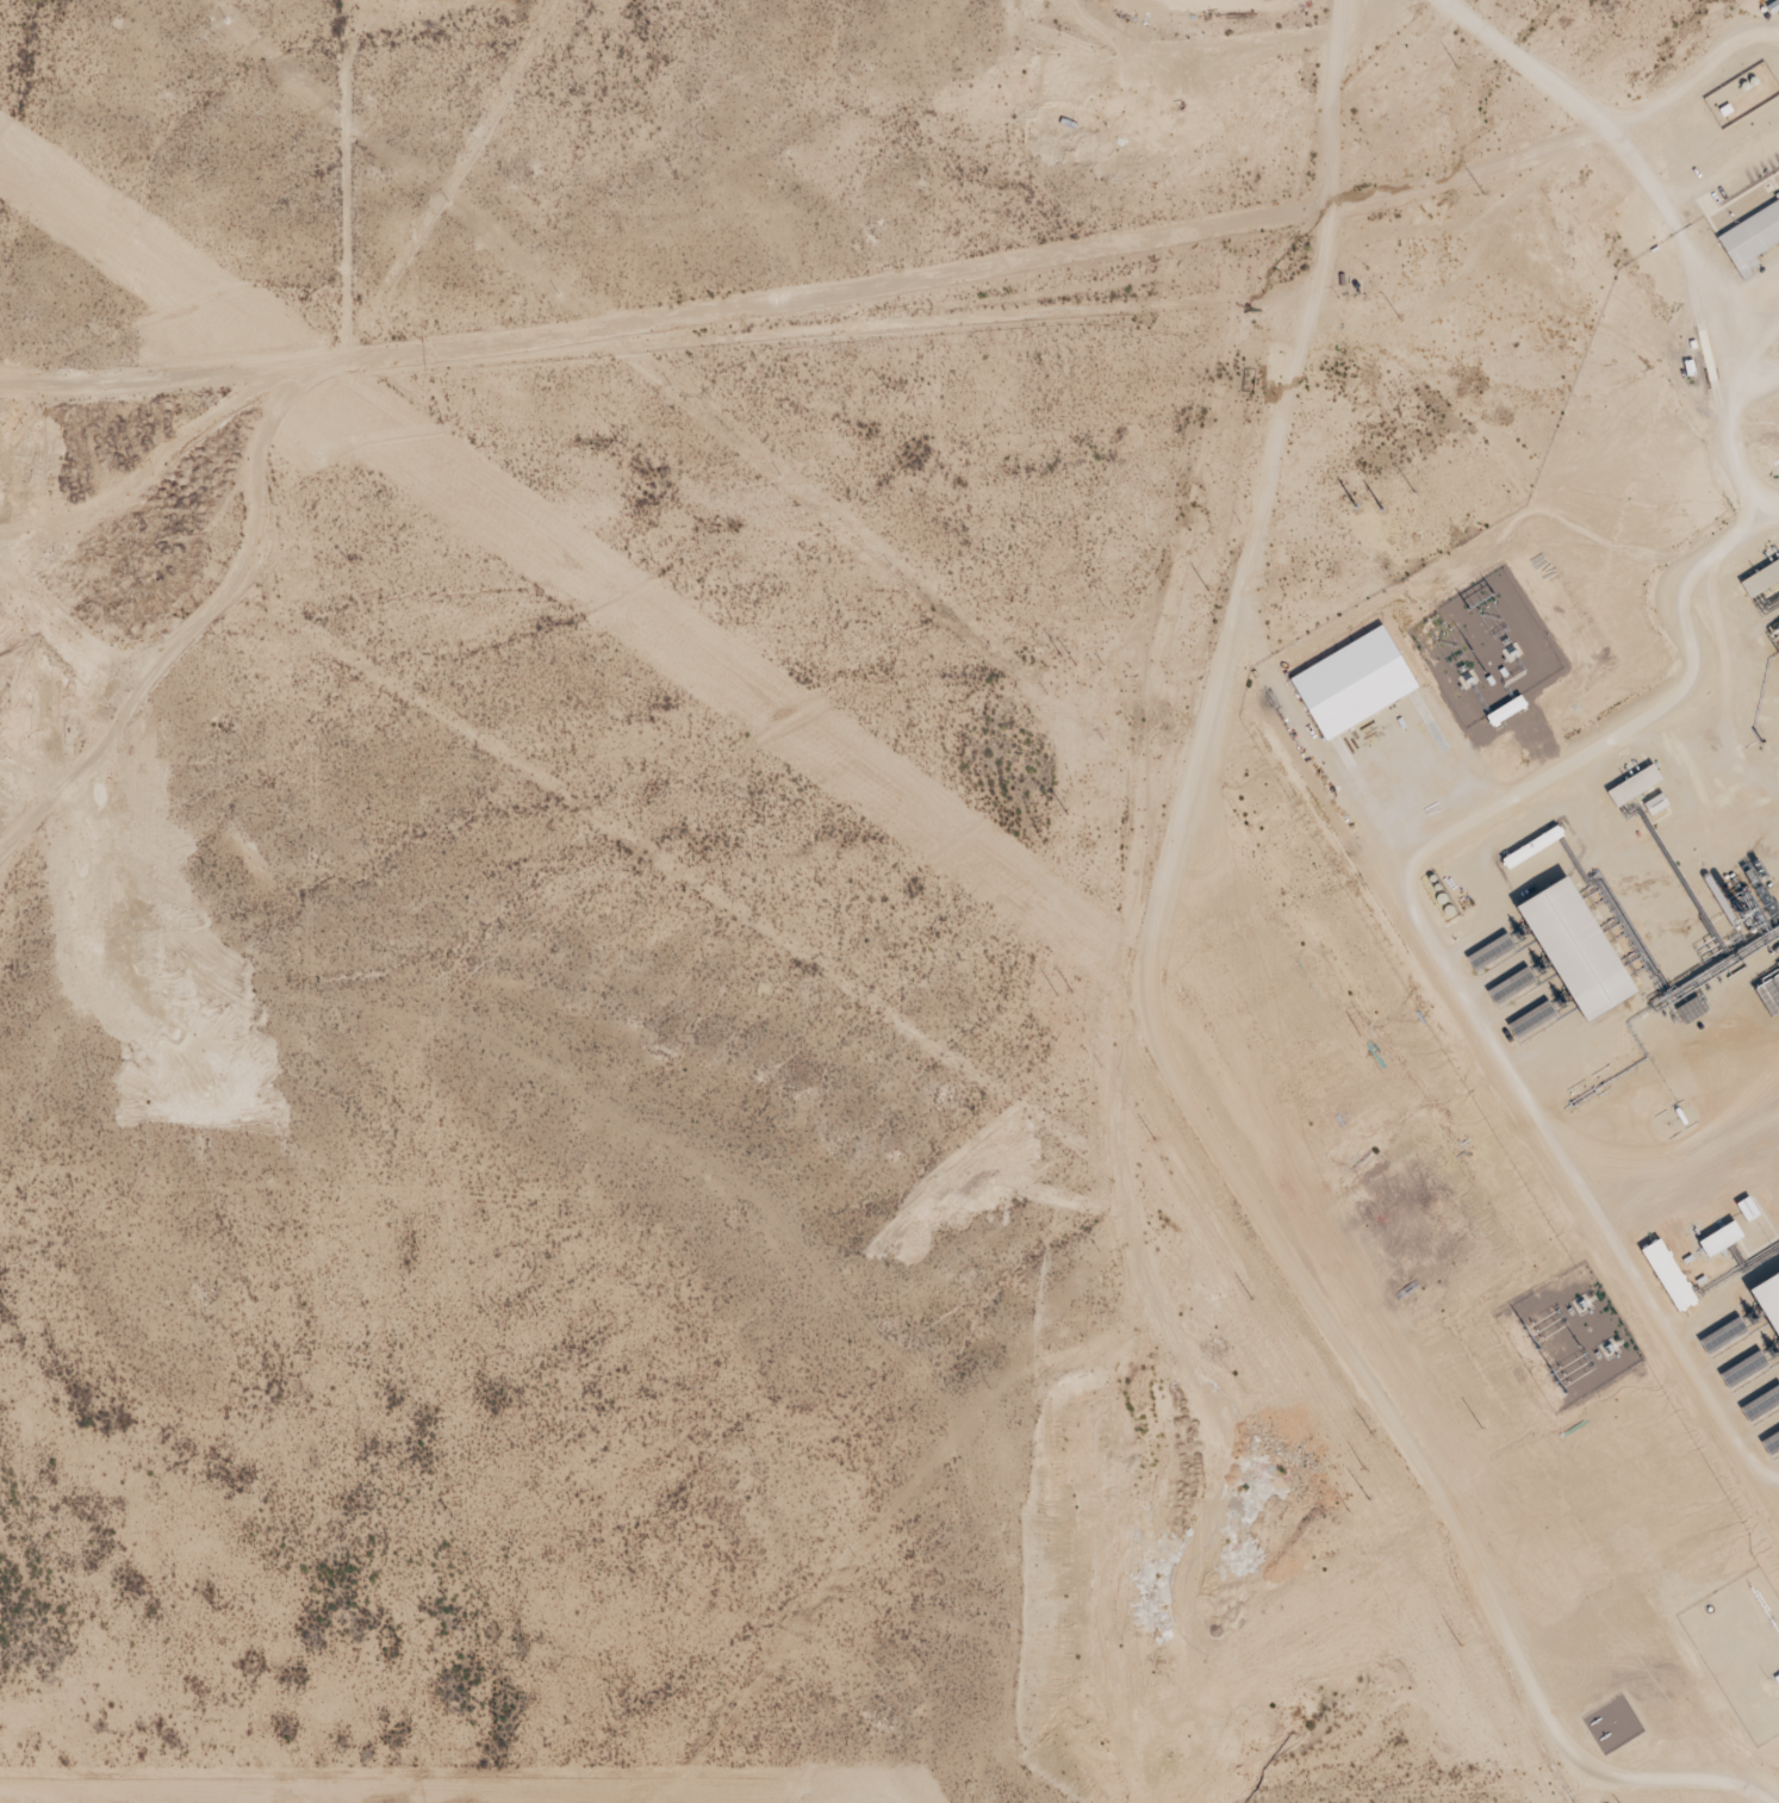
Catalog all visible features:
power tower: (1461, 72)
road: (1293, 149)
power tower: (1486, 194)
power tower: (1401, 319)
road: (645, 349)
power tower: (1416, 491)
power tower: (1362, 504)
building: (1761, 579)
power tower: (1198, 591)
power substation: (1487, 648)
power tower: (1068, 659)
building: (1354, 683)
power tower: (1066, 815)
building: (1574, 949)
power tower: (1064, 994)
power tower: (1152, 1138)
building: (1668, 1274)
power tower: (1250, 1297)
power substation: (1570, 1336)
power tower: (1368, 1431)
power tower: (1472, 1432)
power tower: (1361, 1500)

